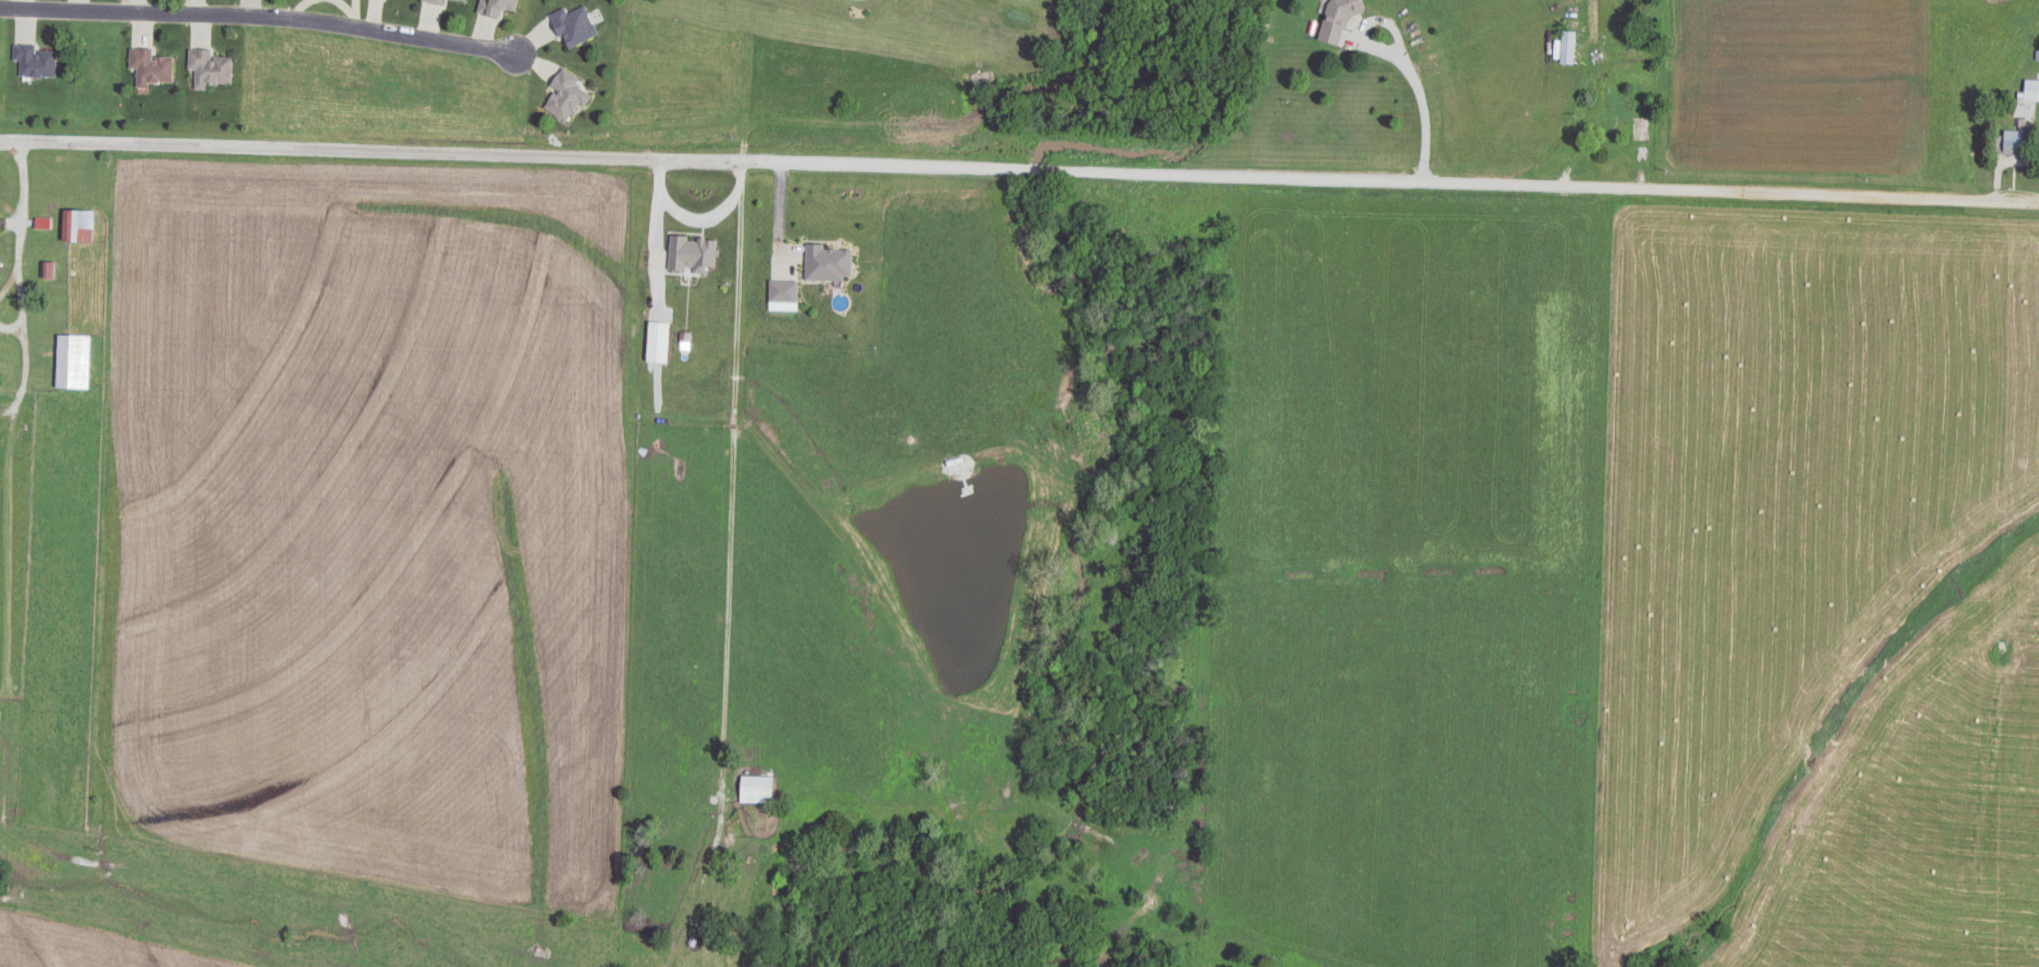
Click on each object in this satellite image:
building: (464, 0)
building: (435, 1)
building: (497, 7)
building: (1337, 18)
road: (257, 25)
building: (574, 26)
building: (1568, 47)
building: (35, 60)
building: (151, 67)
building: (210, 69)
park: (839, 75)
building: (2031, 90)
crop: (1800, 93)
building: (566, 95)
building: (2015, 142)
road: (1019, 187)
building: (77, 225)
building: (691, 253)
building: (828, 262)
building: (48, 270)
building: (783, 291)
building: (56, 296)
building: (658, 342)
building: (73, 361)
crop: (374, 526)
crop: (1821, 588)
building: (756, 790)
crop: (91, 949)

